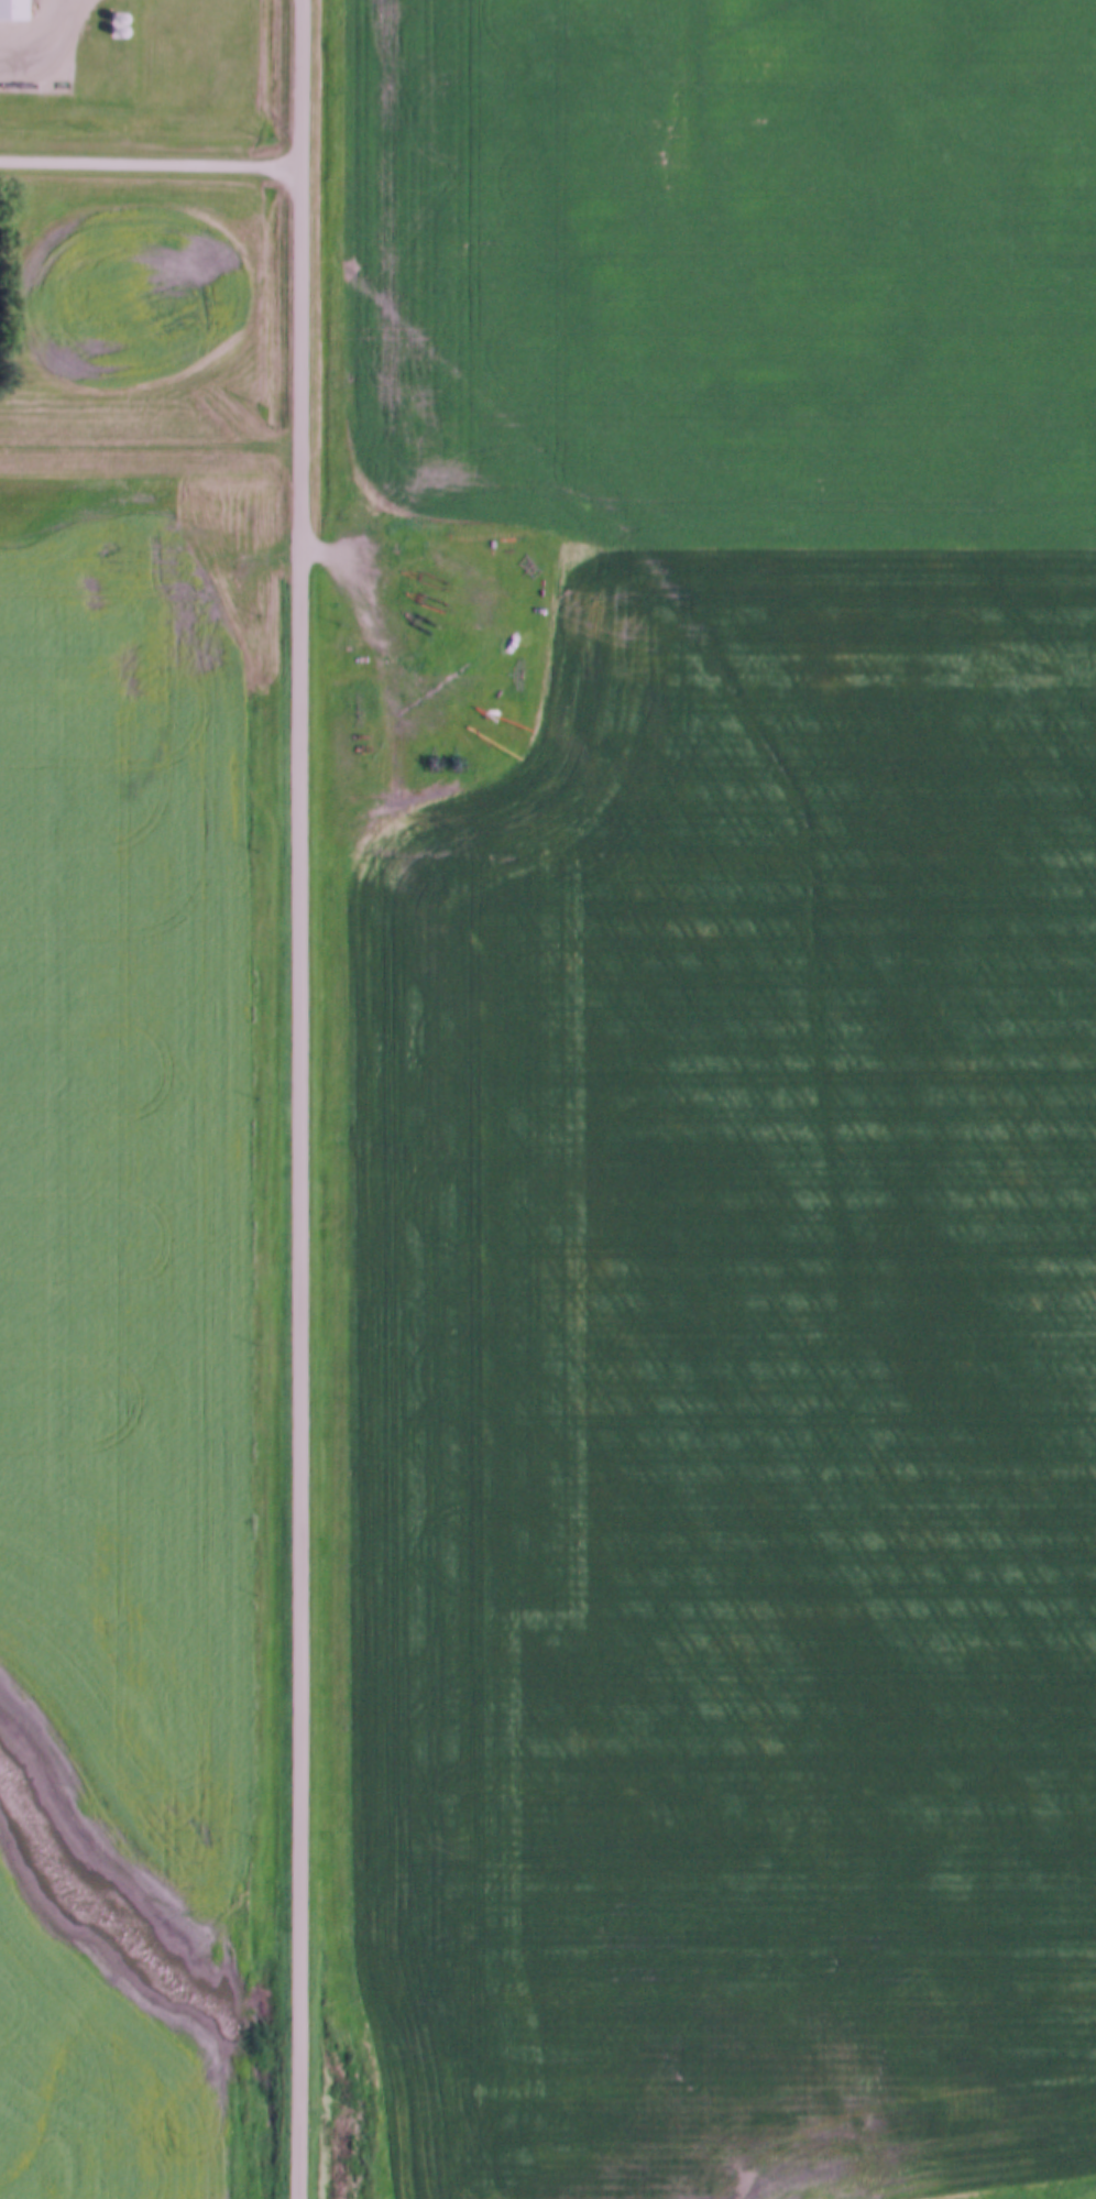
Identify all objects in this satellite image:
building: (9, 8)
crop: (724, 261)

